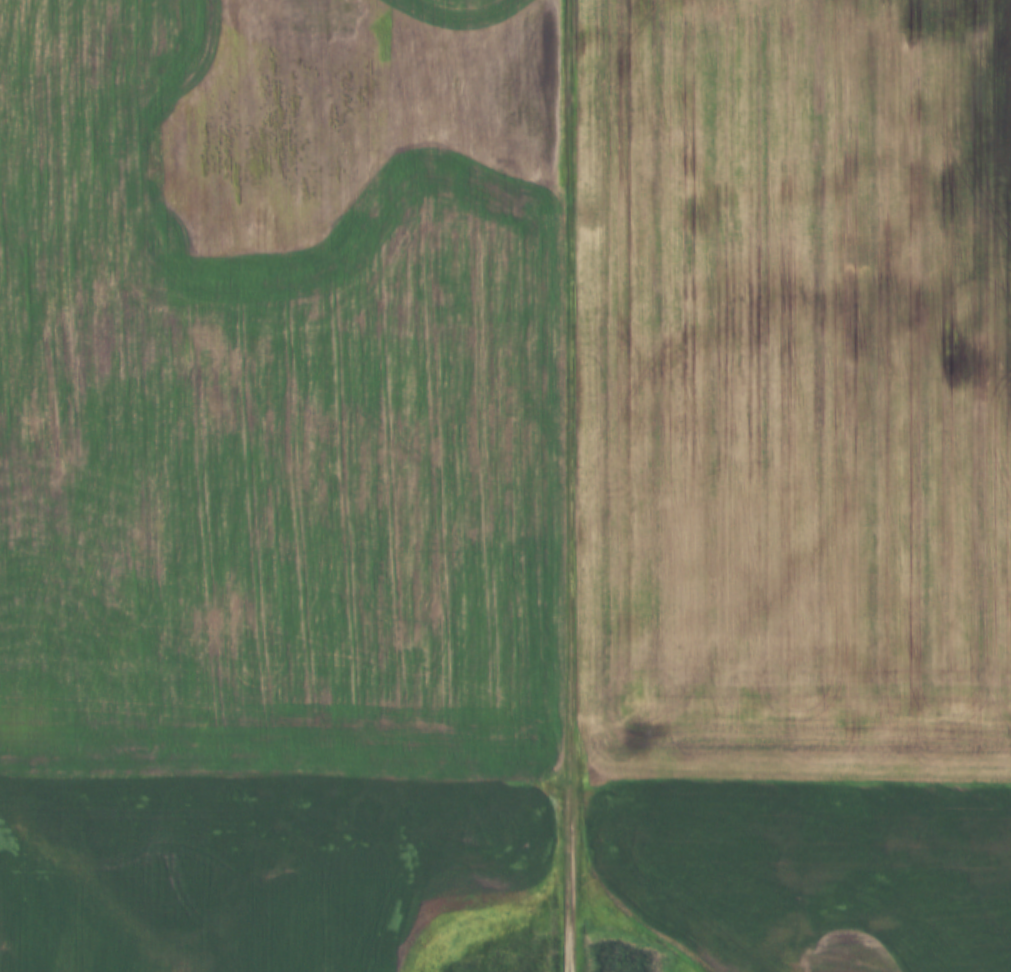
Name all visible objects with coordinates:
road: (569, 486)

